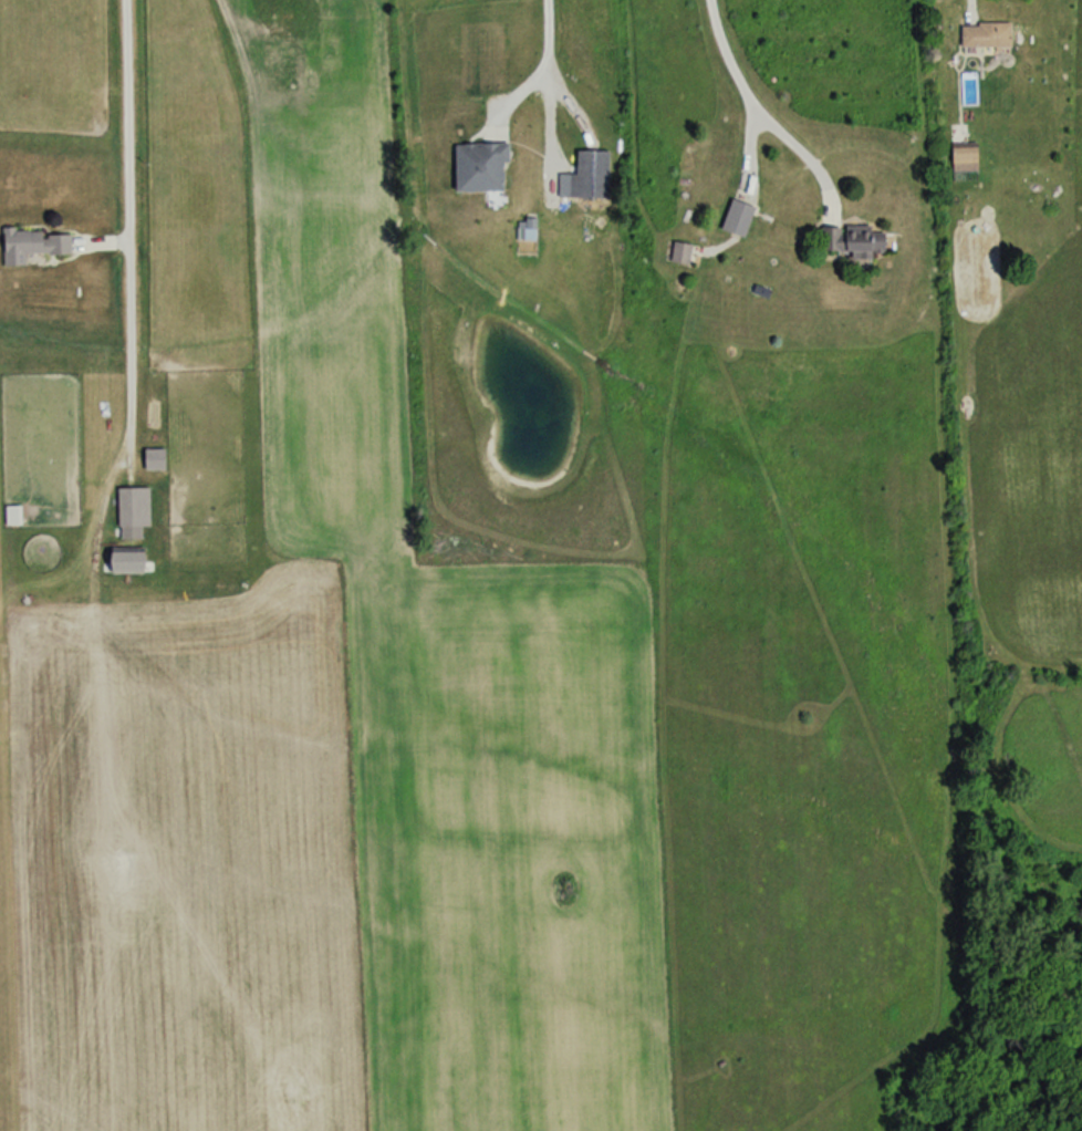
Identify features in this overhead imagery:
building: (982, 35)
road: (550, 64)
building: (271, 68)
road: (756, 111)
building: (963, 160)
building: (477, 167)
building: (587, 174)
building: (735, 218)
road: (126, 220)
building: (853, 242)
building: (30, 245)
building: (678, 252)
building: (152, 459)
building: (131, 507)
building: (10, 515)
building: (121, 561)

